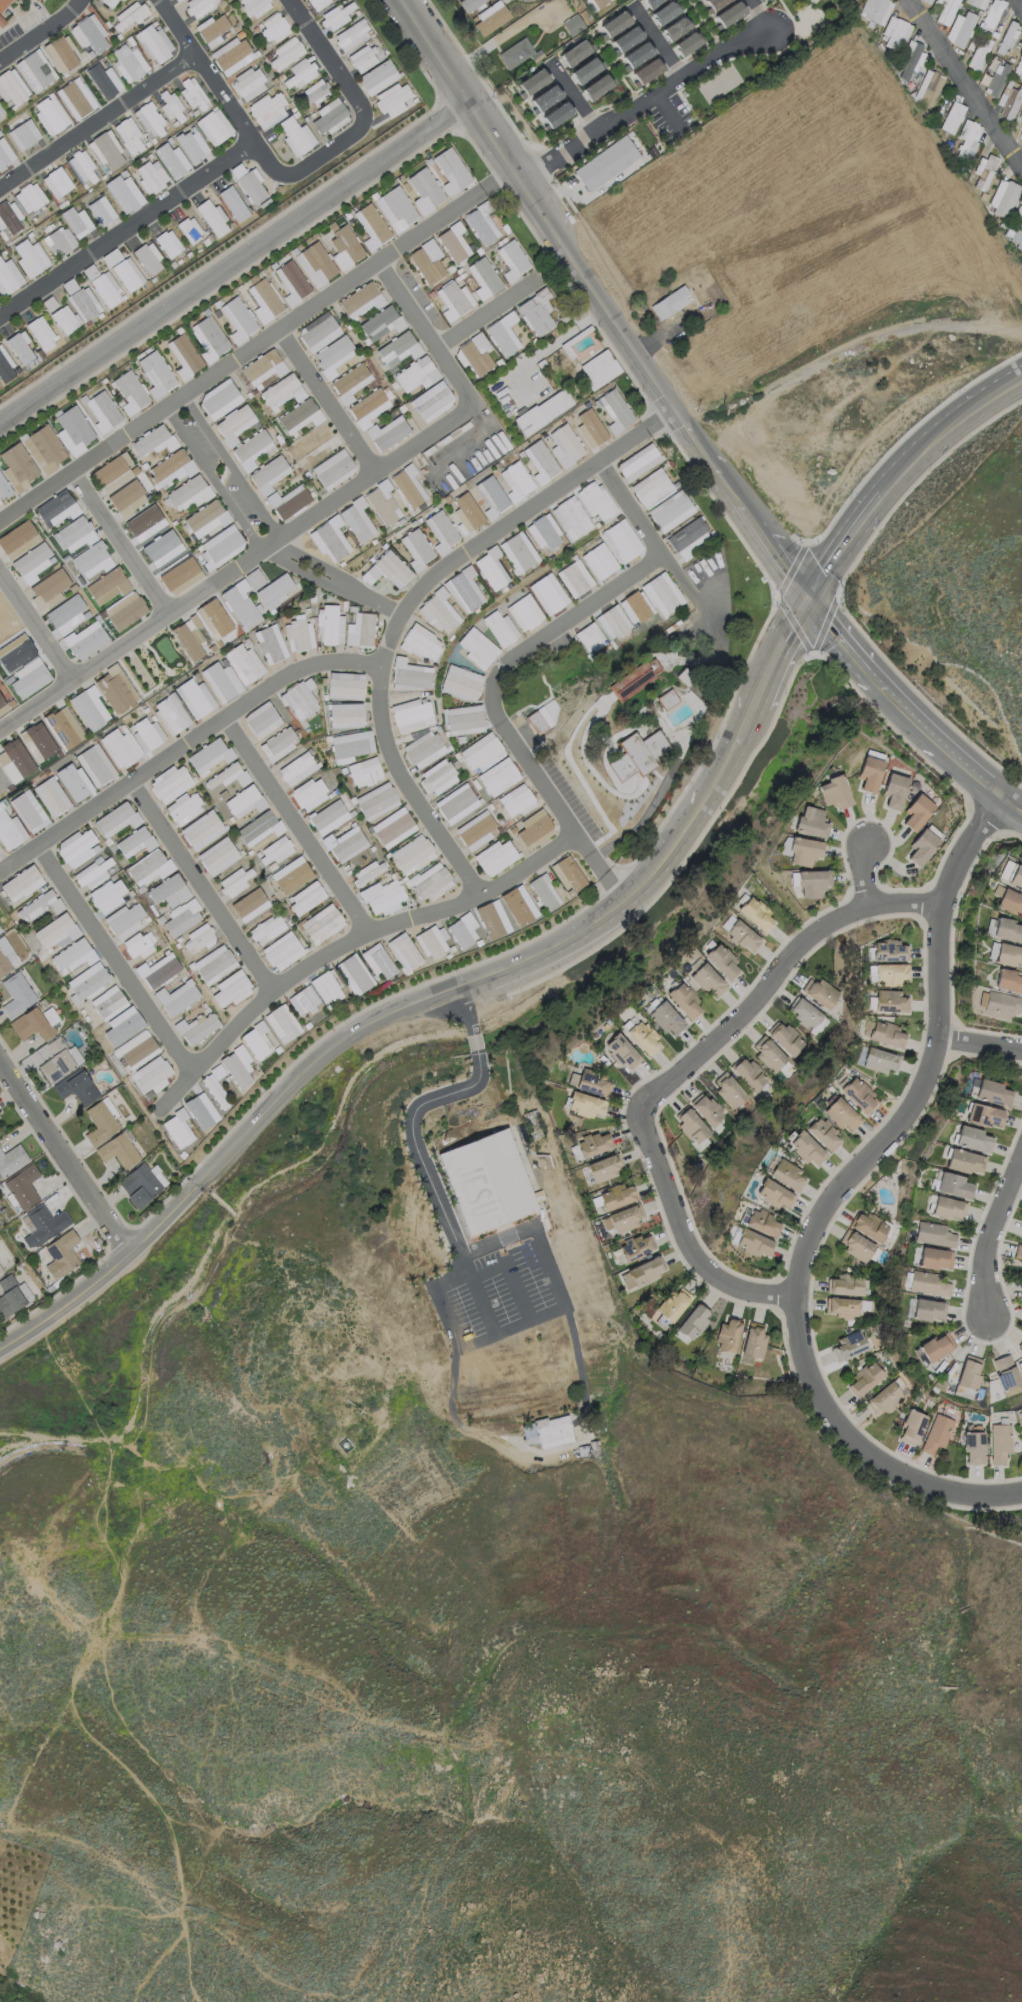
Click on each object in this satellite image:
building: (122, 0)
building: (176, 0)
building: (926, 1)
building: (109, 2)
building: (650, 2)
building: (318, 3)
building: (715, 3)
building: (976, 3)
building: (3, 4)
building: (469, 4)
building: (595, 4)
building: (199, 6)
building: (253, 6)
building: (875, 10)
building: (665, 11)
building: (945, 11)
building: (729, 14)
building: (337, 15)
road: (759, 15)
building: (129, 16)
building: (993, 16)
building: (490, 17)
building: (1, 22)
building: (572, 24)
building: (614, 24)
building: (273, 27)
building: (676, 27)
building: (959, 29)
building: (211, 30)
road: (41, 31)
building: (895, 32)
building: (89, 34)
building: (351, 35)
building: (1006, 38)
building: (624, 40)
road: (657, 41)
building: (154, 43)
building: (687, 43)
building: (286, 53)
building: (515, 53)
building: (574, 53)
building: (978, 53)
building: (60, 54)
building: (635, 55)
building: (230, 56)
building: (364, 57)
building: (908, 59)
building: (128, 62)
building: (1018, 66)
building: (583, 70)
building: (34, 71)
road: (206, 72)
building: (645, 72)
building: (300, 73)
building: (377, 77)
building: (996, 79)
building: (103, 80)
building: (248, 83)
building: (530, 83)
road: (964, 83)
building: (596, 86)
building: (928, 87)
building: (12, 88)
building: (313, 91)
building: (193, 93)
road: (575, 96)
building: (76, 98)
building: (392, 99)
building: (543, 99)
road: (357, 102)
road: (643, 102)
building: (170, 106)
building: (266, 110)
building: (1, 114)
building: (50, 114)
building: (556, 114)
building: (329, 117)
building: (951, 117)
building: (149, 120)
road: (98, 121)
building: (213, 127)
building: (23, 135)
building: (129, 136)
building: (296, 136)
building: (191, 145)
building: (105, 150)
road: (264, 159)
building: (171, 160)
building: (605, 163)
building: (81, 166)
building: (451, 171)
building: (983, 171)
building: (151, 176)
road: (498, 180)
building: (56, 182)
building: (251, 186)
building: (424, 191)
building: (124, 195)
building: (29, 198)
building: (1003, 198)
building: (233, 203)
building: (395, 208)
building: (100, 211)
building: (9, 217)
building: (212, 218)
building: (76, 222)
building: (481, 225)
building: (371, 226)
building: (189, 230)
road: (126, 231)
building: (1016, 232)
building: (59, 241)
building: (168, 243)
building: (453, 243)
building: (344, 247)
building: (30, 257)
building: (148, 258)
building: (512, 260)
building: (427, 261)
road: (233, 262)
building: (315, 264)
building: (127, 274)
building: (8, 277)
building: (483, 278)
building: (291, 282)
building: (106, 289)
building: (264, 300)
building: (360, 300)
building: (453, 300)
building: (669, 303)
road: (606, 306)
building: (75, 310)
road: (486, 312)
building: (536, 312)
building: (237, 319)
building: (380, 323)
building: (318, 332)
building: (41, 333)
building: (503, 335)
building: (208, 338)
road: (553, 341)
building: (19, 347)
building: (398, 349)
building: (474, 355)
building: (184, 356)
building: (333, 356)
road: (241, 357)
building: (263, 367)
building: (5, 368)
building: (599, 369)
building: (156, 373)
building: (416, 374)
building: (349, 382)
building: (130, 392)
building: (282, 392)
building: (219, 399)
building: (432, 401)
road: (325, 403)
building: (367, 408)
building: (615, 410)
building: (102, 411)
building: (543, 411)
building: (299, 416)
building: (234, 424)
building: (589, 428)
building: (73, 430)
building: (387, 433)
building: (153, 441)
building: (564, 445)
building: (44, 448)
building: (251, 449)
building: (540, 461)
building: (638, 462)
building: (17, 467)
building: (170, 469)
road: (230, 469)
building: (333, 469)
building: (268, 474)
building: (515, 481)
road: (211, 482)
road: (902, 484)
building: (408, 486)
building: (651, 487)
building: (4, 489)
building: (189, 493)
building: (491, 497)
building: (126, 499)
building: (595, 501)
building: (288, 502)
building: (382, 503)
building: (56, 508)
building: (670, 511)
building: (466, 513)
building: (571, 518)
building: (205, 519)
road: (306, 519)
building: (357, 520)
building: (441, 531)
building: (544, 532)
building: (74, 534)
building: (17, 539)
building: (329, 539)
road: (650, 539)
building: (688, 539)
building: (621, 541)
road: (119, 545)
building: (220, 546)
road: (471, 547)
building: (416, 549)
building: (518, 552)
building: (91, 560)
building: (599, 561)
building: (32, 563)
building: (491, 569)
building: (387, 570)
building: (180, 575)
building: (574, 578)
building: (106, 586)
building: (48, 589)
building: (463, 590)
building: (274, 591)
building: (547, 594)
building: (662, 594)
building: (240, 605)
building: (634, 607)
building: (124, 610)
building: (439, 612)
building: (524, 612)
building: (213, 620)
building: (612, 622)
building: (329, 625)
building: (499, 627)
building: (359, 630)
road: (35, 631)
building: (298, 635)
building: (189, 638)
building: (589, 638)
building: (85, 640)
road: (389, 642)
building: (420, 643)
building: (269, 644)
road: (842, 645)
building: (477, 648)
building: (16, 653)
building: (243, 664)
building: (410, 675)
building: (29, 678)
building: (633, 679)
building: (220, 681)
building: (461, 683)
building: (345, 686)
building: (115, 689)
building: (194, 698)
building: (300, 699)
building: (663, 699)
building: (1, 702)
road: (492, 703)
building: (89, 708)
building: (170, 714)
building: (345, 715)
building: (411, 715)
building: (542, 717)
building: (261, 720)
building: (464, 720)
building: (63, 728)
building: (147, 734)
road: (195, 740)
building: (37, 741)
building: (278, 744)
building: (350, 746)
building: (119, 748)
building: (423, 749)
road: (945, 749)
building: (483, 752)
building: (635, 754)
building: (209, 756)
building: (14, 760)
building: (94, 765)
building: (297, 768)
building: (870, 771)
building: (364, 772)
building: (224, 775)
building: (498, 776)
building: (437, 777)
building: (170, 783)
building: (894, 791)
building: (834, 792)
building: (310, 794)
building: (50, 796)
building: (517, 800)
building: (244, 801)
building: (376, 801)
building: (456, 803)
building: (183, 808)
building: (27, 811)
building: (917, 812)
building: (328, 817)
building: (116, 819)
building: (811, 822)
building: (533, 826)
building: (393, 827)
building: (259, 828)
road: (295, 828)
building: (201, 830)
building: (475, 830)
building: (10, 831)
building: (134, 842)
building: (345, 844)
building: (924, 844)
building: (75, 847)
building: (0, 850)
building: (803, 851)
building: (412, 854)
building: (217, 856)
building: (495, 857)
road: (19, 862)
building: (149, 867)
road: (859, 867)
building: (566, 873)
building: (92, 874)
building: (1015, 878)
building: (430, 882)
building: (21, 883)
building: (232, 883)
building: (812, 883)
road: (199, 889)
building: (168, 891)
building: (544, 892)
building: (106, 896)
building: (381, 897)
building: (306, 899)
building: (1009, 902)
building: (40, 905)
building: (249, 905)
building: (755, 915)
building: (181, 918)
building: (124, 921)
building: (727, 922)
building: (322, 923)
building: (267, 929)
building: (462, 930)
building: (1007, 930)
building: (0, 931)
building: (56, 931)
building: (743, 936)
building: (198, 939)
building: (433, 941)
road: (349, 943)
building: (137, 945)
building: (282, 951)
building: (404, 951)
building: (888, 951)
building: (1008, 954)
building: (73, 955)
building: (6, 957)
building: (378, 961)
building: (722, 961)
building: (214, 964)
building: (157, 970)
building: (889, 973)
building: (354, 974)
road: (776, 976)
building: (707, 980)
building: (87, 981)
building: (1008, 981)
building: (326, 987)
building: (231, 989)
building: (818, 993)
building: (16, 994)
road: (432, 995)
building: (177, 997)
building: (303, 1000)
building: (684, 1001)
building: (890, 1001)
building: (108, 1003)
building: (1000, 1003)
road: (463, 1005)
building: (807, 1015)
building: (667, 1019)
building: (34, 1023)
building: (282, 1023)
building: (196, 1027)
building: (885, 1034)
building: (642, 1037)
building: (786, 1038)
road: (471, 1039)
building: (256, 1040)
road: (983, 1040)
building: (136, 1049)
building: (622, 1051)
building: (799, 1052)
building: (768, 1053)
building: (59, 1060)
building: (878, 1060)
building: (237, 1066)
building: (747, 1073)
building: (150, 1075)
building: (593, 1084)
building: (215, 1087)
building: (77, 1088)
building: (728, 1090)
building: (993, 1093)
building: (858, 1095)
building: (585, 1105)
building: (709, 1111)
building: (842, 1114)
building: (984, 1116)
building: (101, 1121)
building: (177, 1128)
building: (693, 1129)
building: (823, 1134)
building: (973, 1139)
building: (593, 1144)
building: (806, 1148)
building: (118, 1150)
road: (63, 1157)
building: (11, 1160)
building: (964, 1161)
building: (603, 1167)
building: (786, 1174)
building: (486, 1181)
building: (142, 1184)
building: (954, 1185)
building: (22, 1187)
building: (774, 1194)
building: (616, 1197)
road: (838, 1199)
building: (948, 1208)
building: (622, 1219)
building: (762, 1222)
building: (42, 1225)
building: (869, 1226)
road: (527, 1228)
road: (988, 1232)
building: (934, 1234)
building: (1021, 1238)
road: (684, 1239)
building: (753, 1243)
building: (636, 1247)
building: (857, 1247)
building: (1018, 1252)
building: (61, 1255)
building: (935, 1258)
building: (641, 1273)
building: (927, 1283)
building: (847, 1285)
road: (517, 1291)
road: (477, 1294)
building: (12, 1295)
building: (673, 1304)
building: (842, 1307)
building: (928, 1309)
building: (693, 1321)
building: (753, 1341)
building: (936, 1346)
road: (578, 1364)
building: (1006, 1375)
building: (967, 1376)
building: (864, 1378)
building: (883, 1398)
road: (459, 1424)
building: (911, 1427)
building: (547, 1432)
building: (936, 1434)
building: (999, 1443)
road: (563, 1446)
building: (971, 1446)

